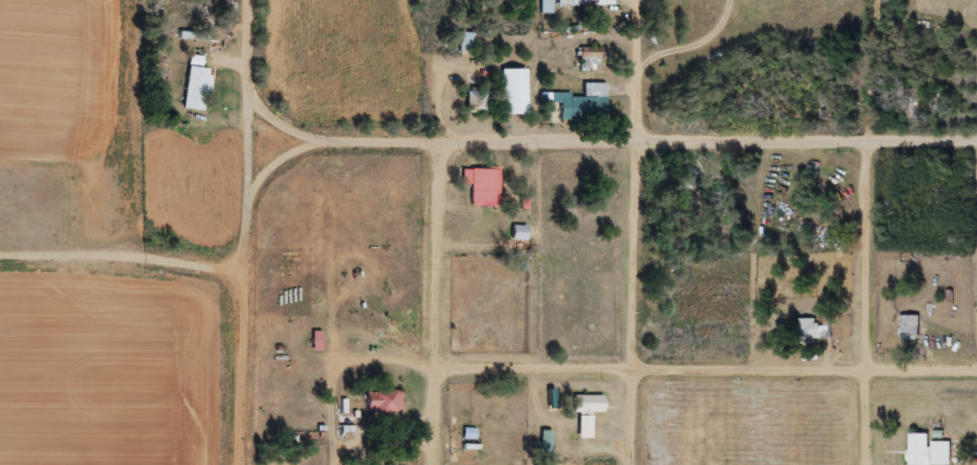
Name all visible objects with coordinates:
building: (605, 2)
building: (546, 6)
building: (466, 41)
building: (590, 52)
building: (195, 84)
building: (513, 90)
building: (476, 102)
building: (583, 103)
road: (615, 142)
building: (685, 177)
building: (482, 185)
road: (247, 232)
road: (439, 232)
road: (639, 232)
road: (869, 232)
building: (909, 327)
building: (811, 331)
building: (316, 340)
road: (708, 372)
building: (382, 401)
building: (588, 404)
building: (584, 426)
building: (928, 451)

